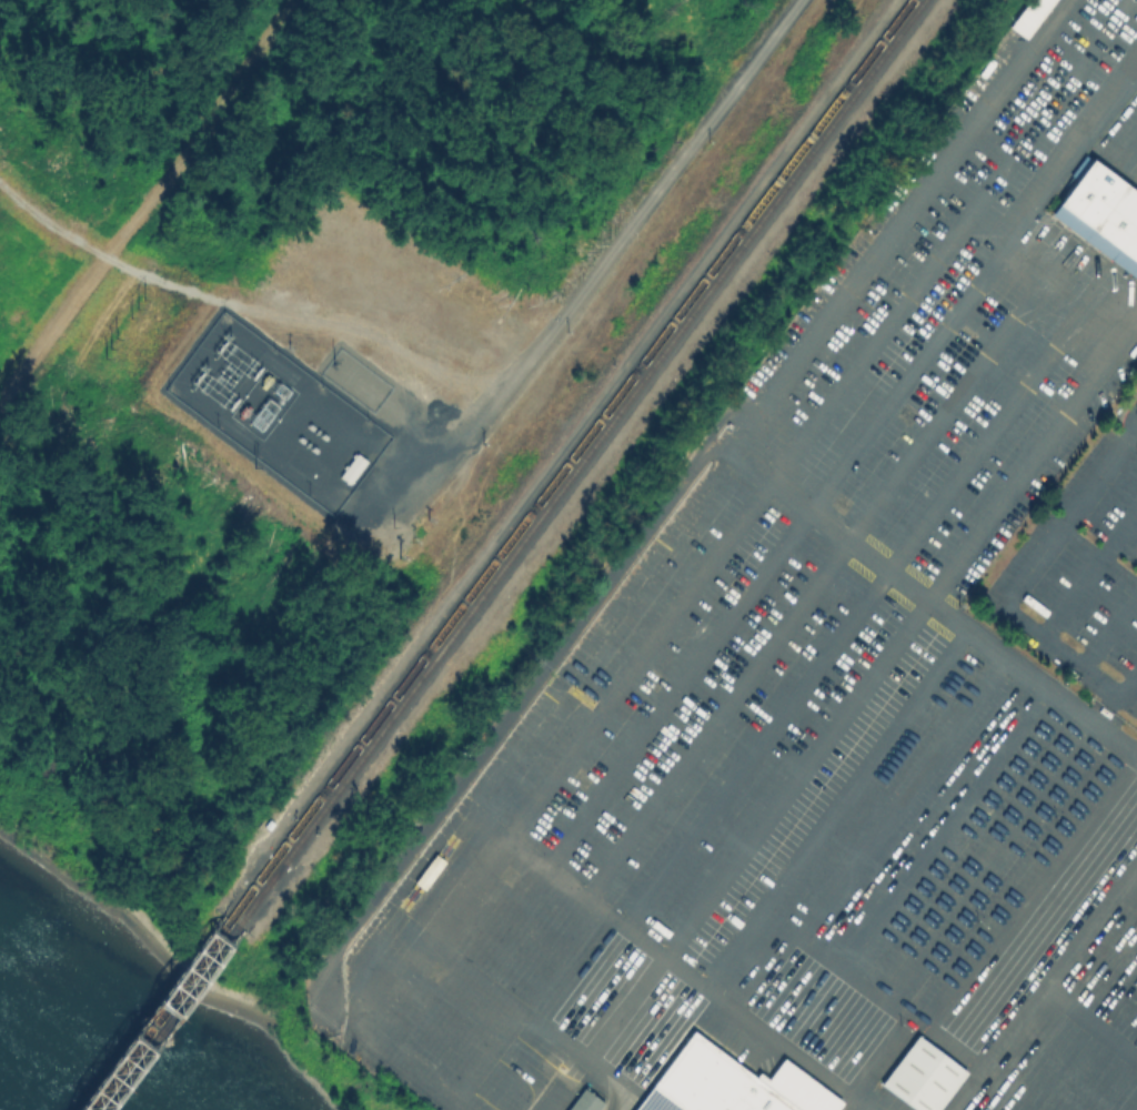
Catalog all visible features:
building: (1028, 16)
road: (1077, 138)
road: (169, 175)
building: (1101, 213)
road: (990, 223)
road: (897, 225)
road: (950, 241)
road: (1005, 251)
road: (607, 256)
power substation: (355, 377)
road: (896, 395)
power substation: (278, 408)
road: (581, 415)
road: (1133, 418)
railway: (566, 458)
railway: (577, 463)
road: (1009, 577)
road: (635, 578)
railway: (263, 868)
railway: (275, 872)
road: (665, 959)
road: (1043, 985)
railway: (155, 1015)
railway: (165, 1018)
road: (1090, 1020)
building: (561, 1066)
building: (920, 1074)
building: (728, 1083)
building: (584, 1100)

